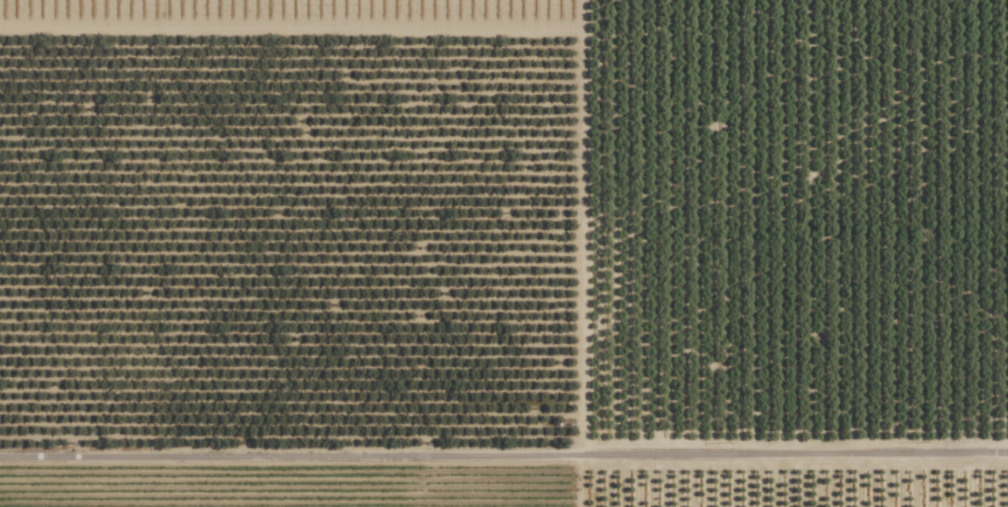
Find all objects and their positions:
road: (504, 452)
road: (582, 479)

